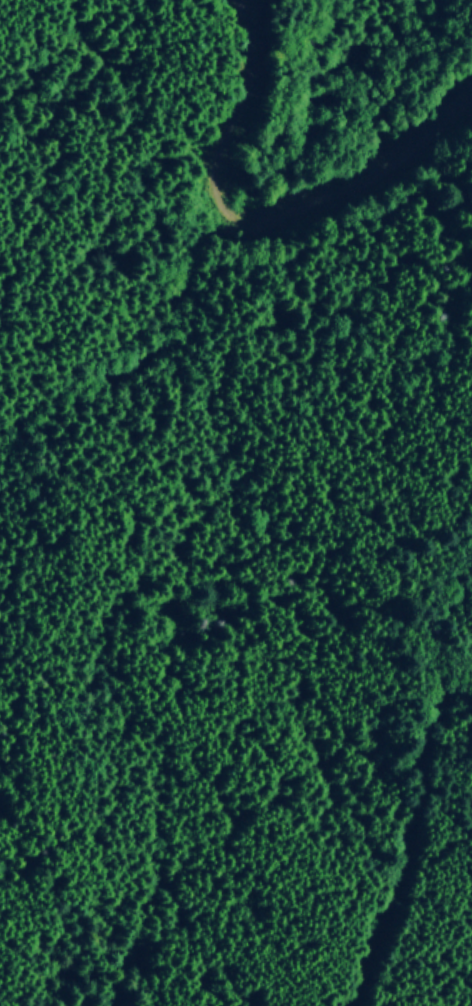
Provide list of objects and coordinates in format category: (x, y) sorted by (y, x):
road: (297, 176)
road: (417, 852)

